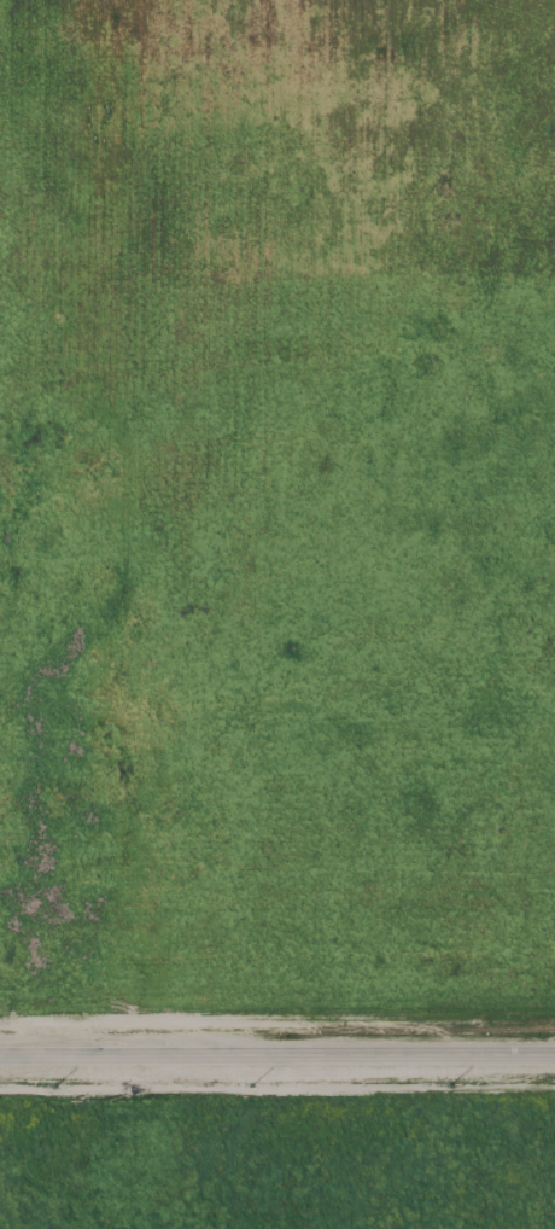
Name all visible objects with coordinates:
road: (277, 1055)

